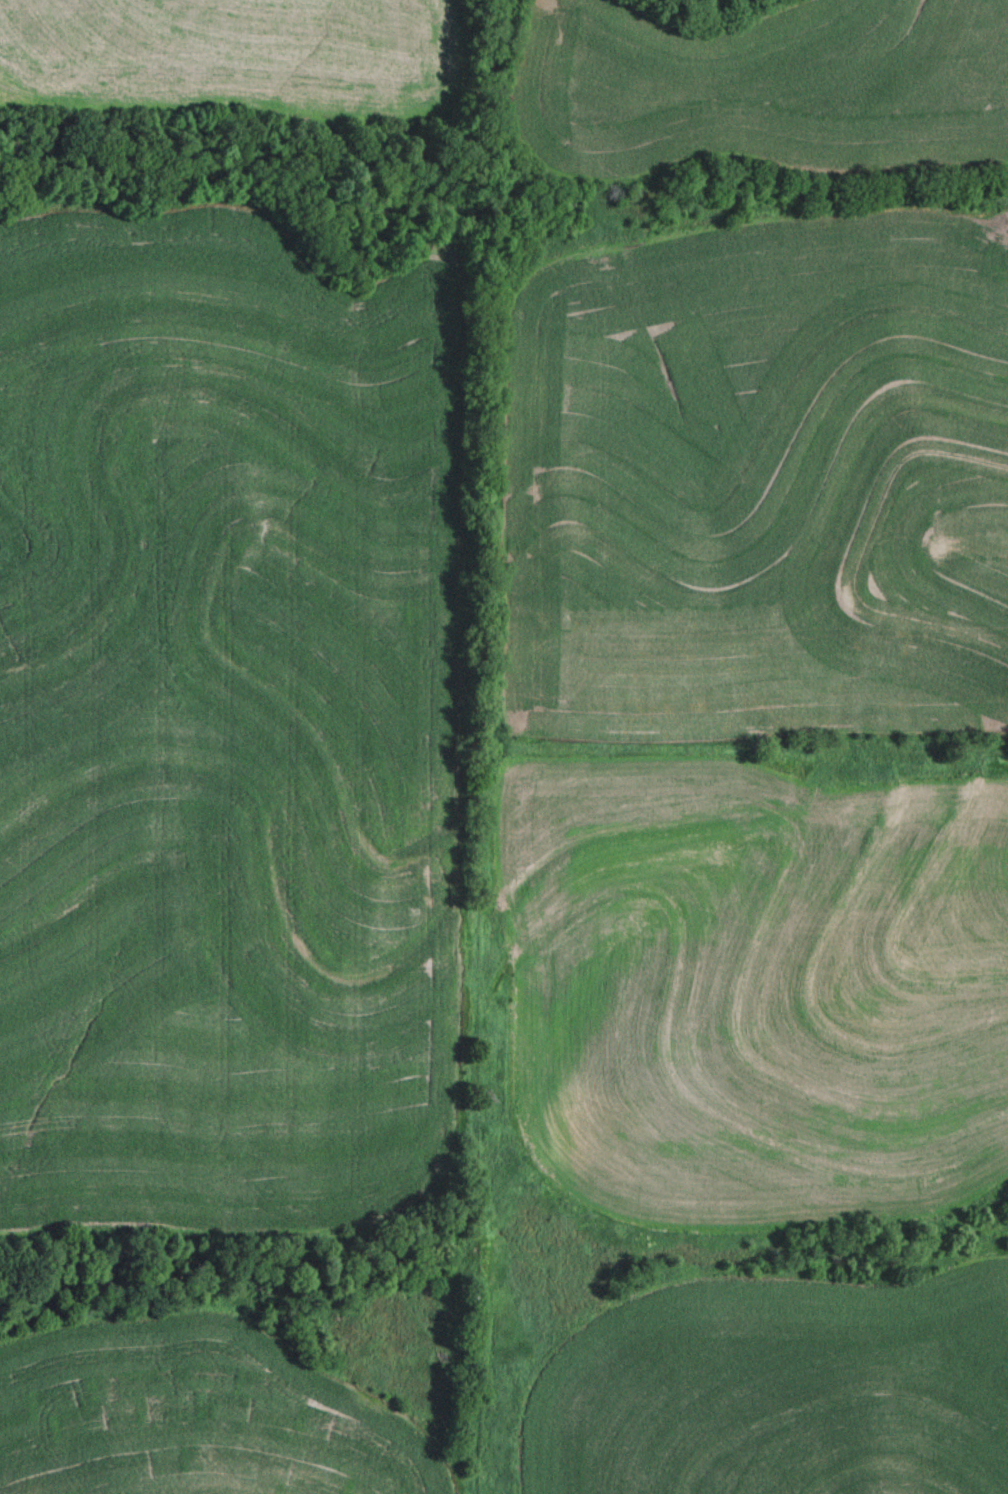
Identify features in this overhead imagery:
building: (316, 193)

